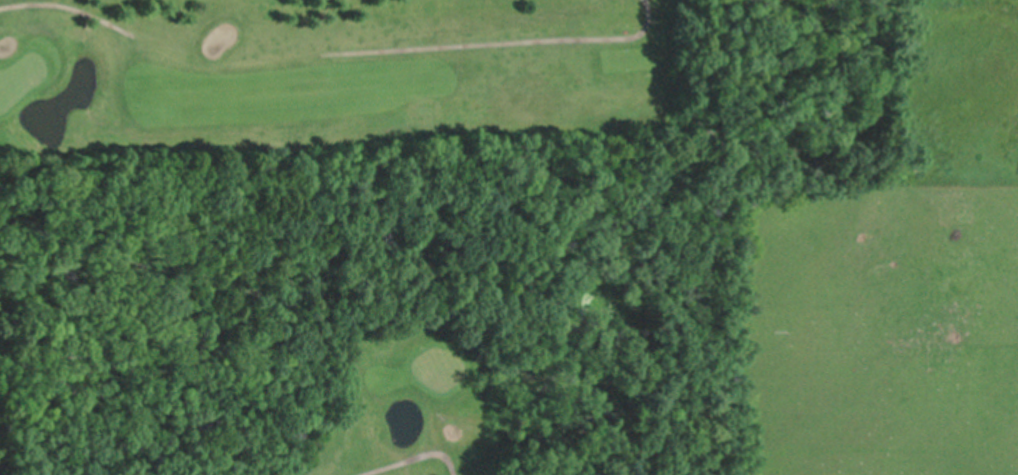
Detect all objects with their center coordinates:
road: (332, 54)
park: (21, 77)
park: (353, 237)
park: (441, 367)
road: (414, 457)

